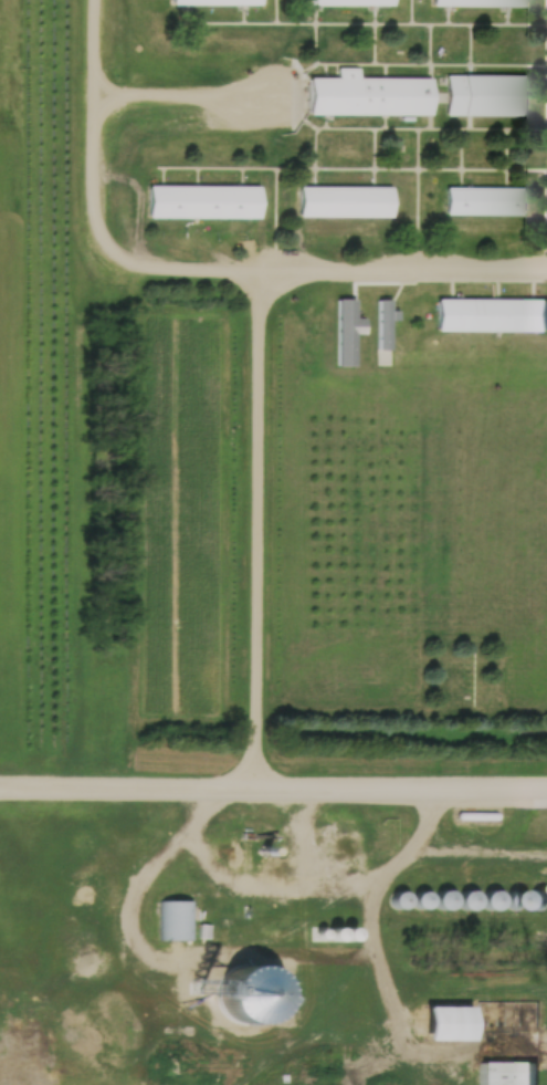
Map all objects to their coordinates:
building: (202, 1)
building: (344, 2)
building: (475, 2)
building: (364, 94)
building: (482, 94)
building: (481, 199)
building: (198, 200)
building: (341, 200)
building: (488, 313)
building: (175, 919)
building: (441, 1022)

